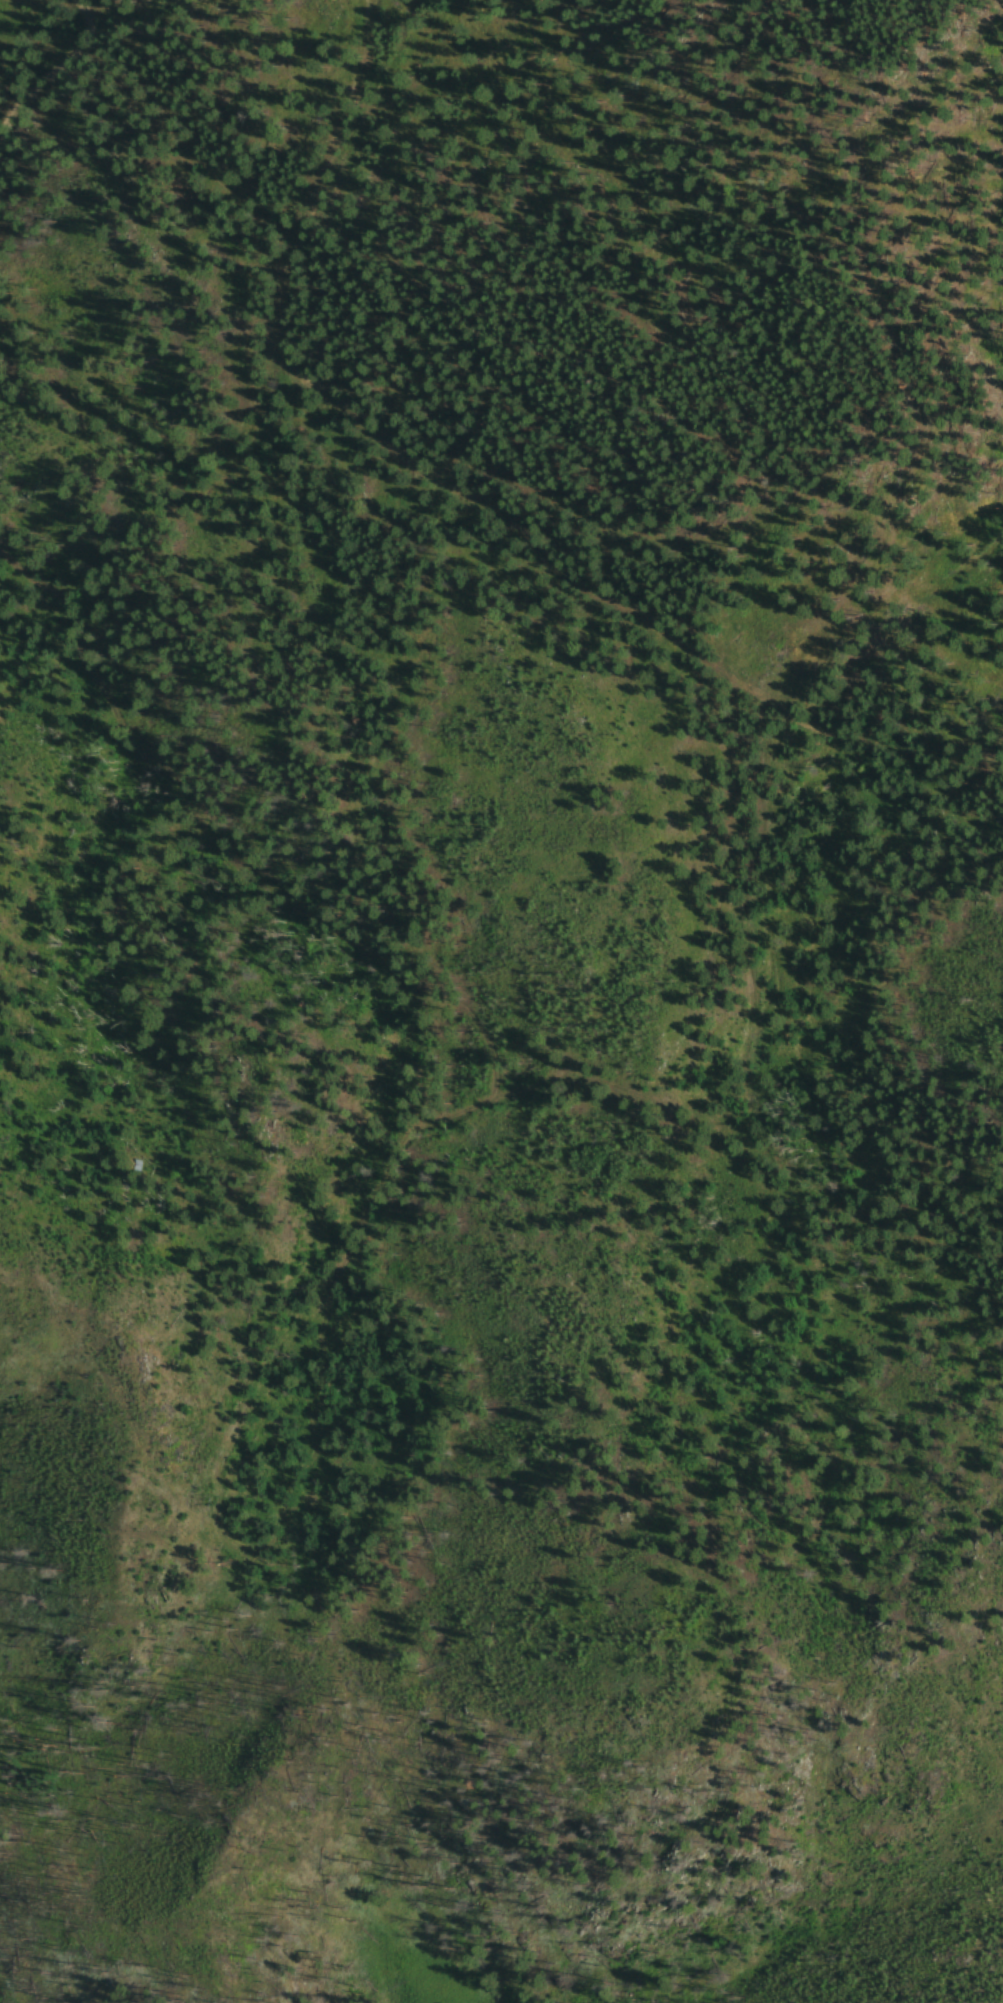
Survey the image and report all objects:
road: (56, 71)

